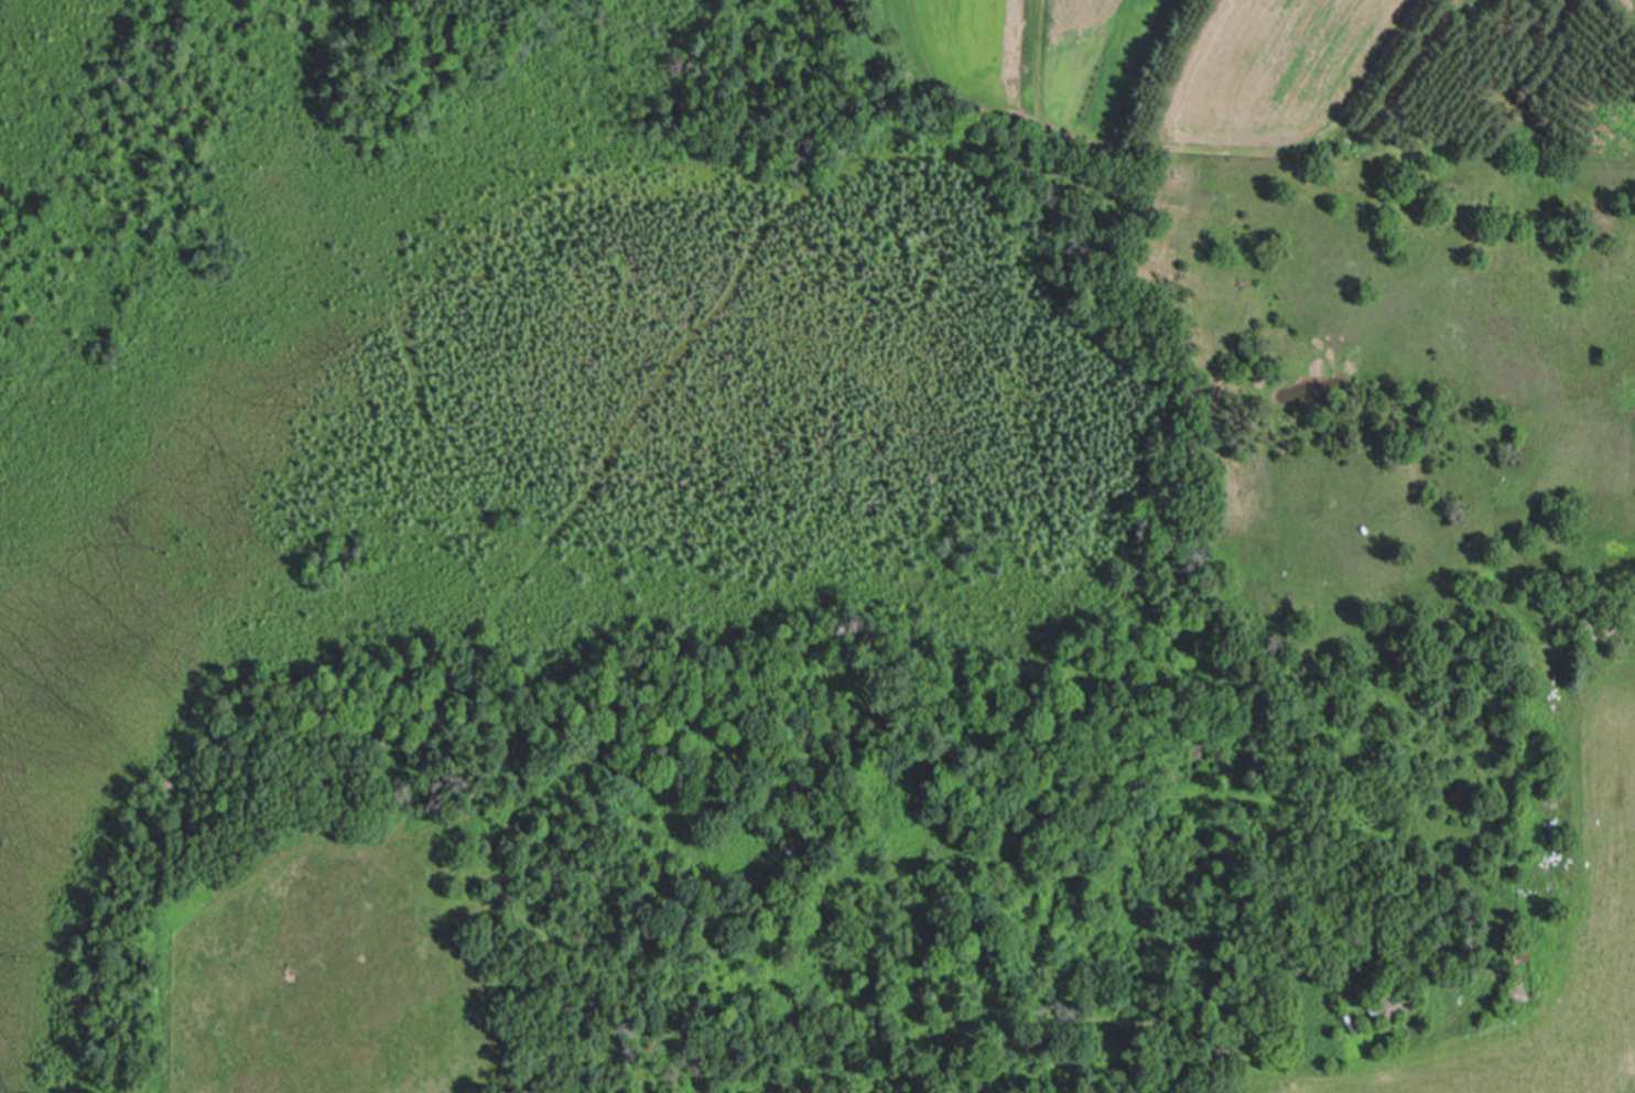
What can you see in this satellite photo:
building: (1513, 994)
building: (1397, 1006)

